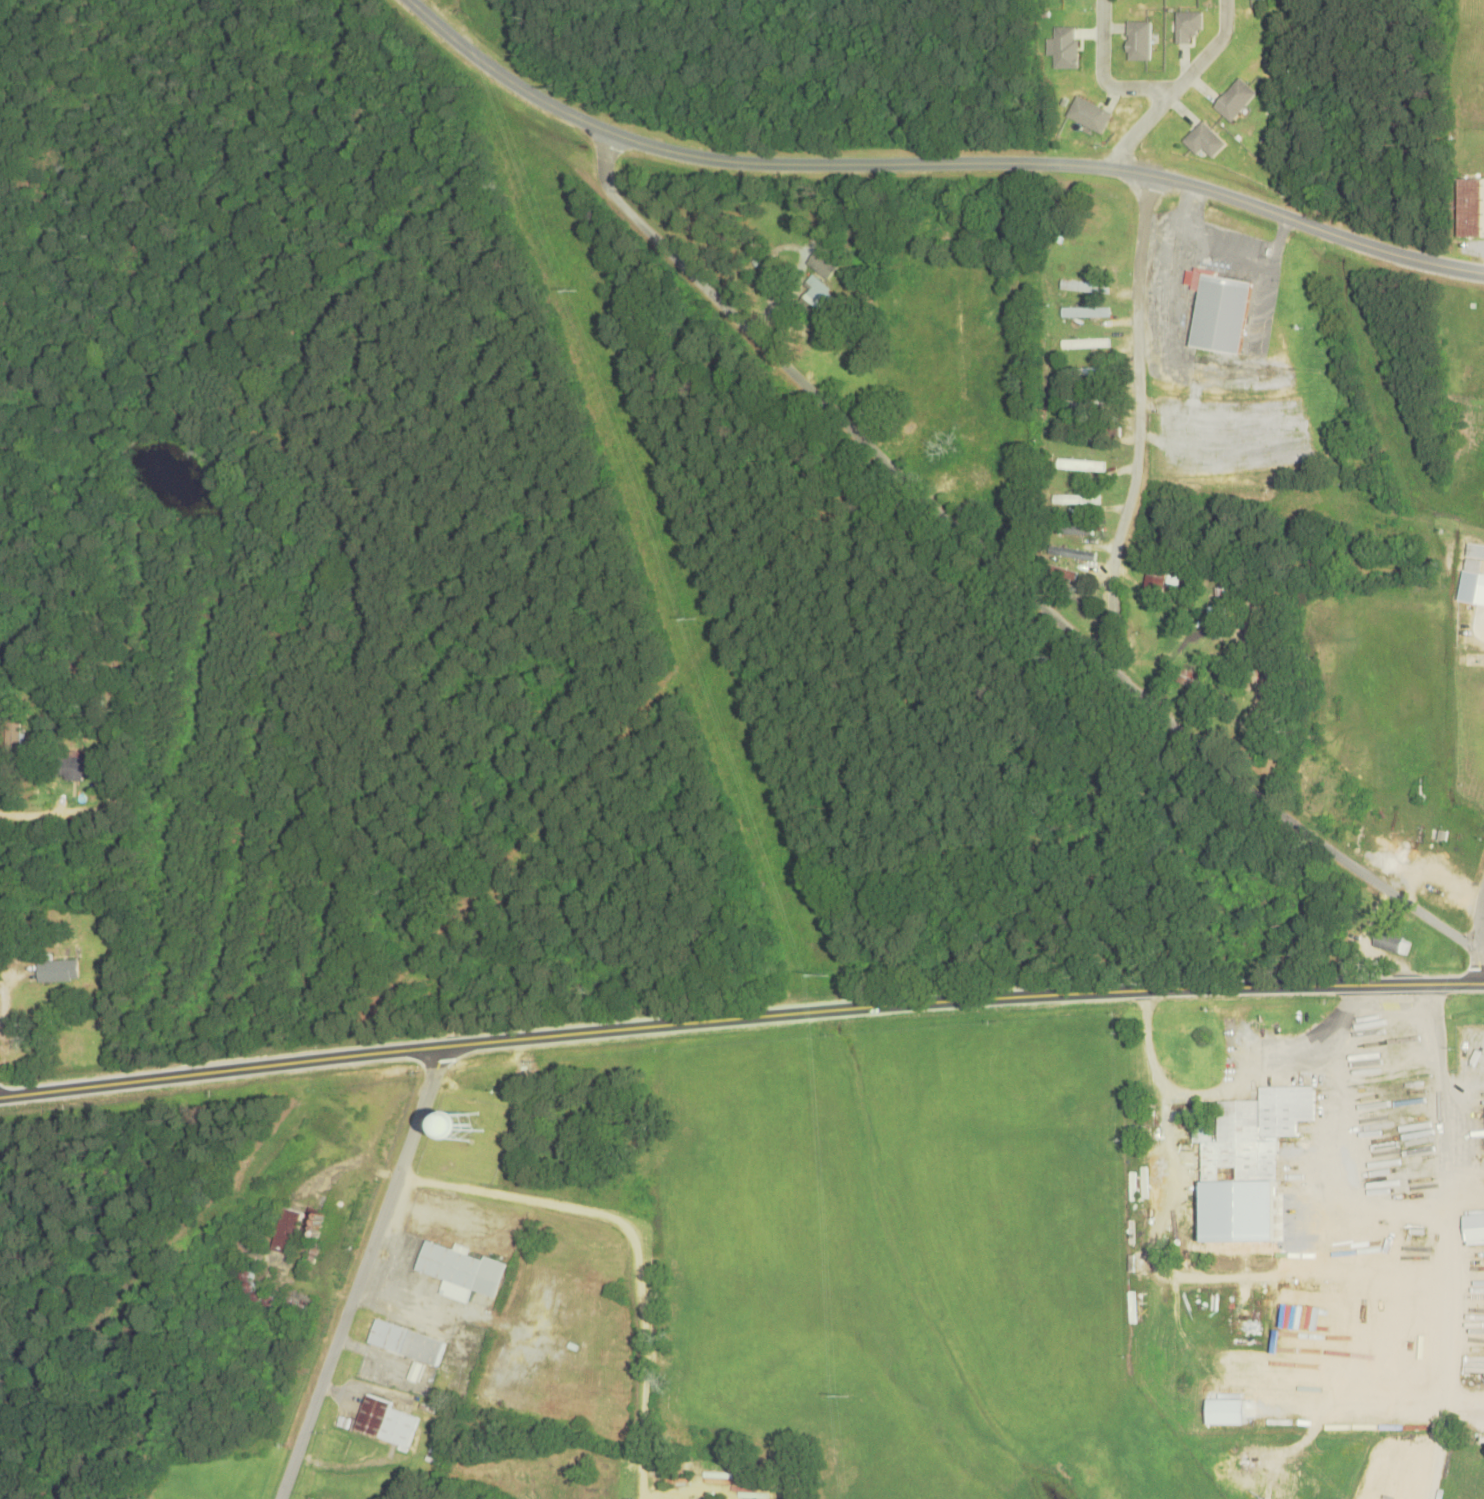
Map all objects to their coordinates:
building: (1187, 23)
building: (1139, 37)
building: (1065, 44)
road: (1207, 49)
road: (1102, 74)
building: (1234, 96)
building: (1090, 111)
road: (1139, 126)
building: (1203, 137)
road: (758, 160)
building: (1469, 205)
road: (1315, 225)
building: (823, 262)
building: (1083, 287)
power tower: (563, 288)
building: (818, 297)
building: (1084, 313)
building: (1218, 313)
building: (1084, 345)
building: (1089, 399)
building: (1091, 403)
road: (1139, 415)
building: (1080, 465)
building: (979, 476)
building: (1075, 501)
building: (1073, 527)
building: (1473, 554)
road: (1000, 570)
building: (1060, 571)
building: (1156, 580)
building: (1221, 605)
power tower: (685, 616)
building: (1193, 679)
building: (73, 764)
road: (1476, 932)
building: (1385, 938)
building: (1403, 944)
building: (57, 968)
power tower: (809, 974)
road: (1390, 1013)
road: (740, 1017)
road: (1435, 1027)
road: (1340, 1036)
building: (1181, 1044)
road: (1210, 1087)
water tower: (464, 1123)
building: (466, 1124)
road: (1449, 1133)
building: (1249, 1143)
building: (1154, 1170)
road: (1342, 1195)
building: (1472, 1223)
building: (285, 1227)
road: (635, 1241)
building: (461, 1267)
road: (360, 1272)
road: (1235, 1277)
building: (405, 1339)
road: (1444, 1385)
power tower: (838, 1393)
building: (385, 1418)

